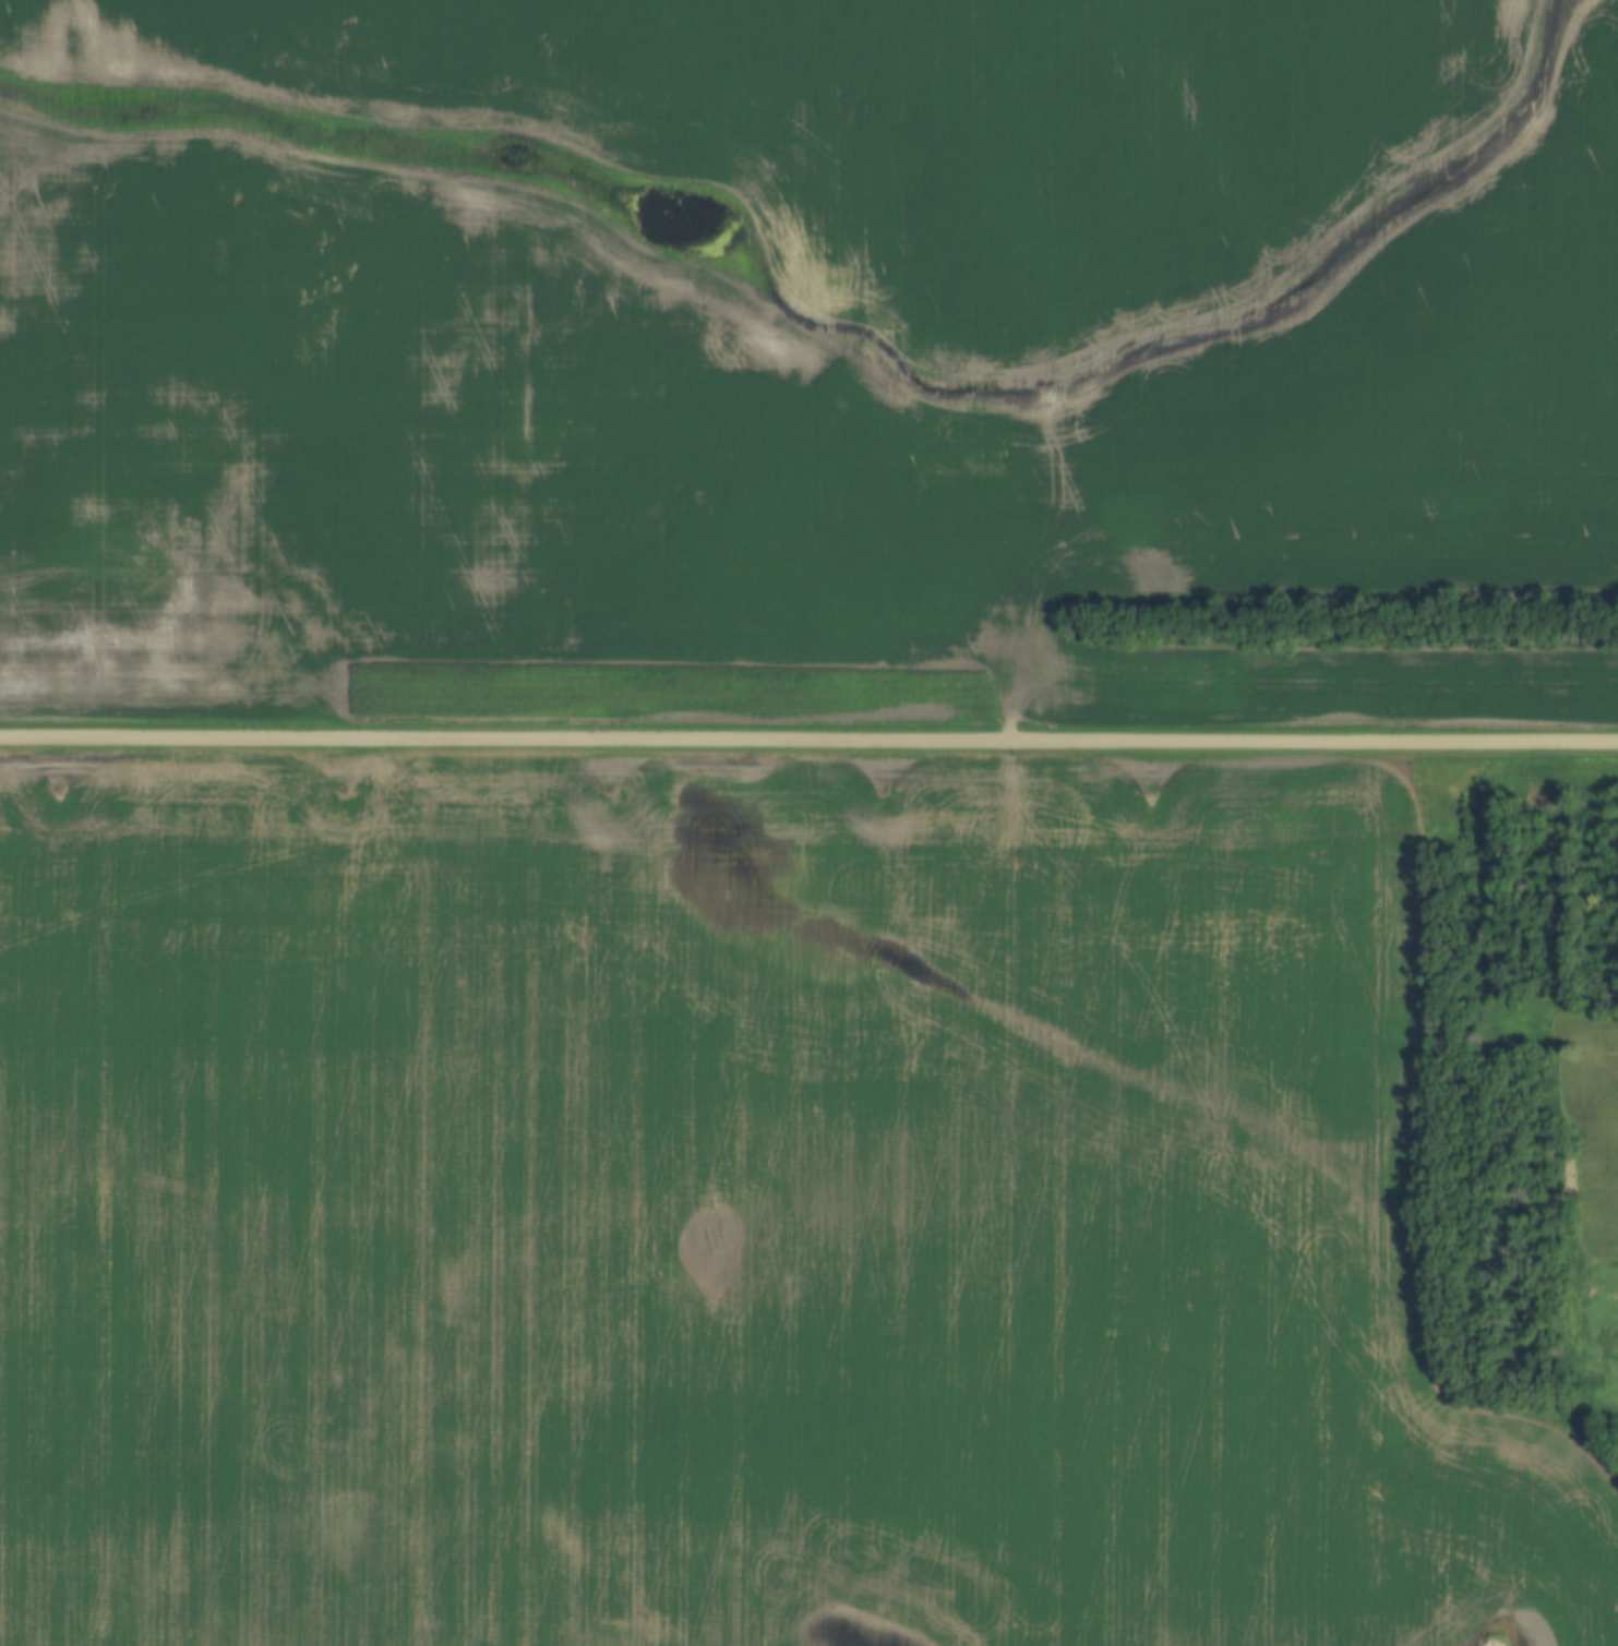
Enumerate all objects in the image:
road: (808, 738)

